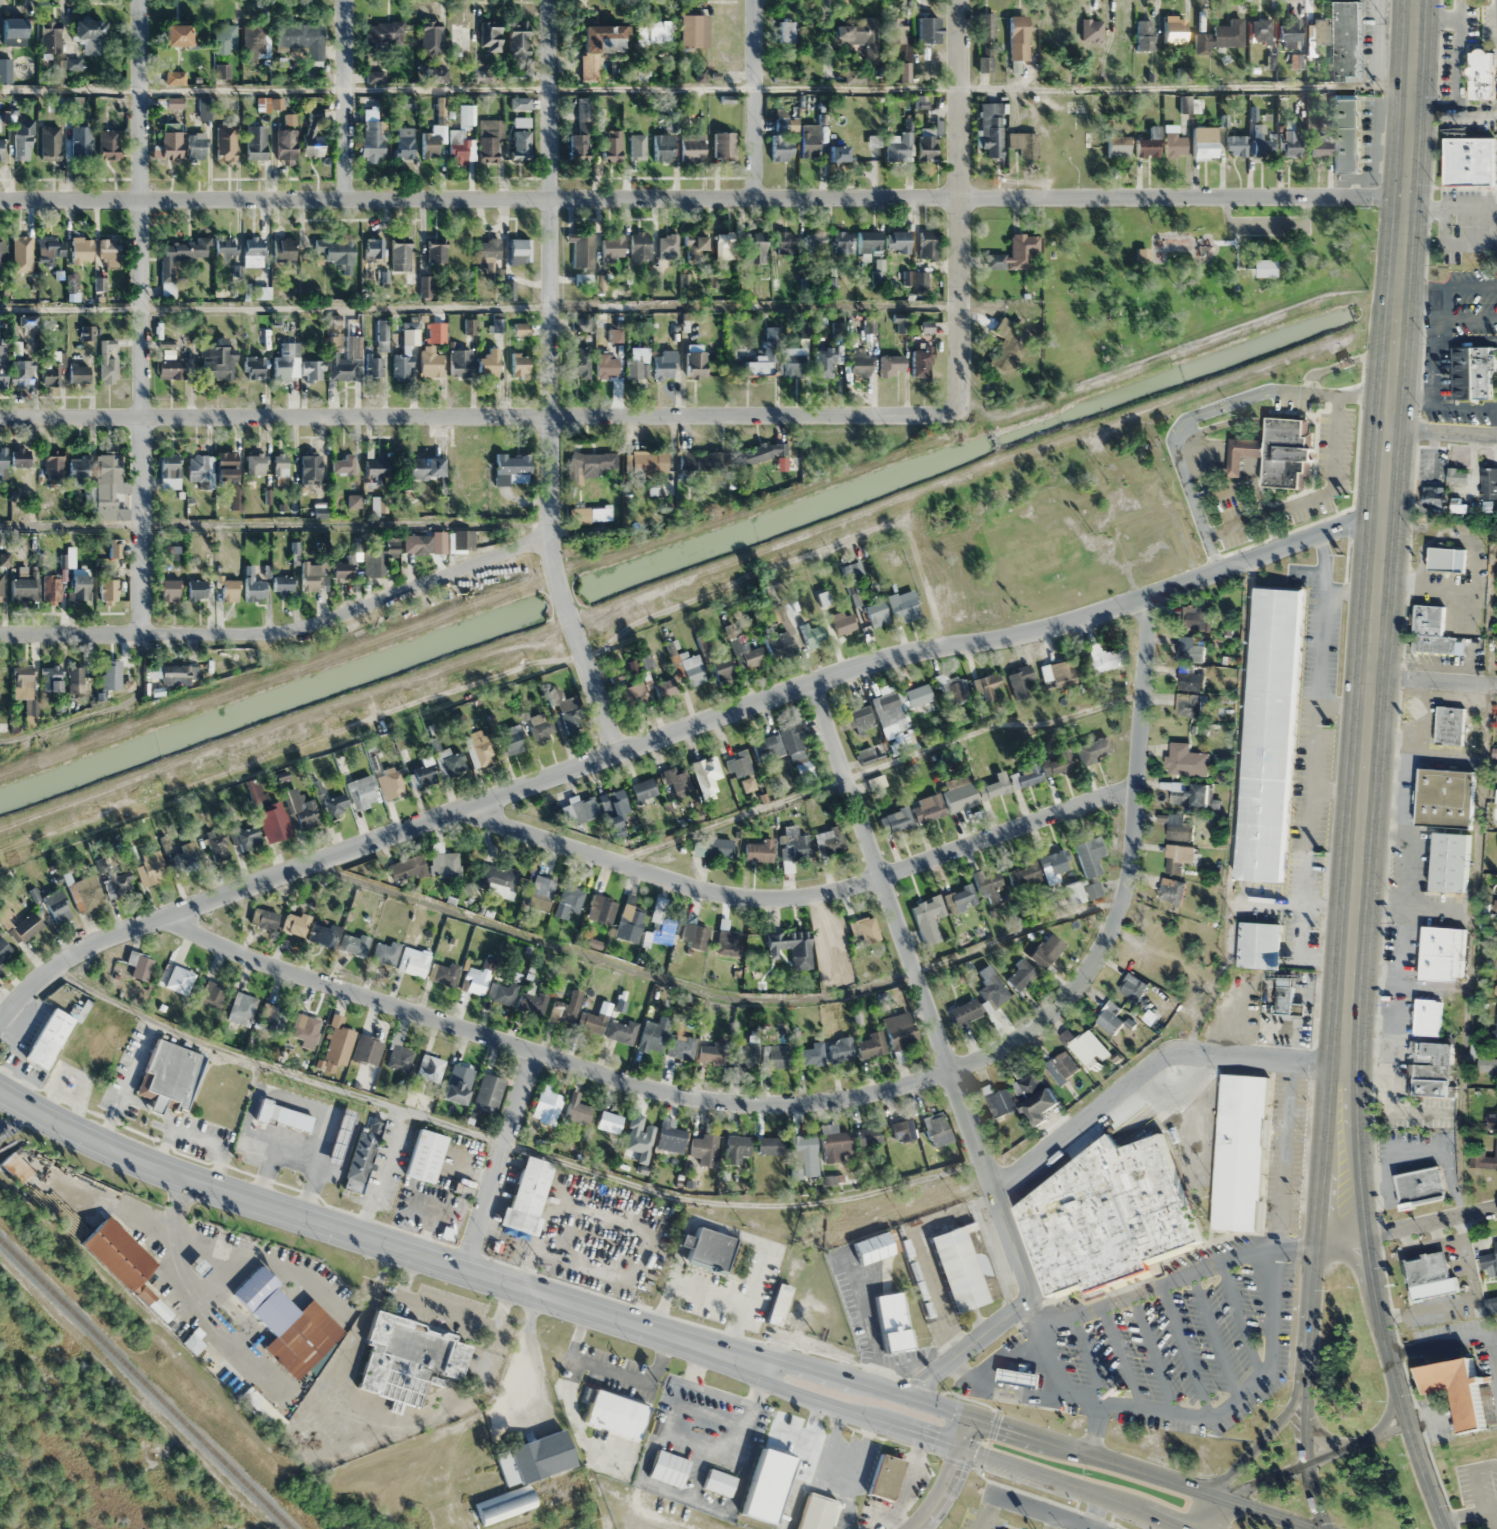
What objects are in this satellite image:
building: (928, 29)
building: (694, 30)
building: (1174, 30)
building: (1263, 30)
building: (787, 31)
building: (1290, 31)
building: (13, 32)
building: (384, 32)
building: (653, 32)
building: (895, 32)
building: (89, 33)
building: (722, 34)
building: (176, 35)
building: (1145, 35)
building: (1318, 35)
building: (489, 36)
building: (49, 37)
building: (860, 37)
building: (1017, 37)
building: (1220, 37)
building: (225, 38)
building: (430, 38)
building: (305, 39)
building: (460, 39)
building: (518, 39)
building: (1346, 40)
building: (986, 41)
building: (254, 42)
building: (598, 46)
building: (222, 71)
building: (1480, 74)
building: (375, 76)
building: (174, 77)
road: (703, 88)
road: (759, 100)
road: (345, 101)
building: (169, 103)
building: (205, 108)
building: (991, 129)
building: (581, 133)
building: (1346, 133)
building: (313, 135)
building: (489, 139)
building: (809, 140)
building: (23, 141)
building: (51, 141)
building: (80, 141)
building: (256, 141)
building: (373, 141)
building: (781, 141)
building: (226, 142)
building: (1204, 142)
building: (404, 143)
building: (1024, 143)
building: (1081, 143)
building: (109, 144)
building: (170, 144)
building: (521, 144)
building: (1175, 144)
building: (429, 145)
building: (458, 145)
building: (611, 145)
building: (1236, 145)
building: (1291, 145)
building: (1319, 145)
building: (286, 146)
building: (724, 146)
building: (926, 146)
building: (1118, 146)
building: (1261, 146)
building: (196, 147)
building: (663, 147)
building: (692, 147)
building: (1146, 147)
building: (1, 148)
building: (638, 148)
building: (899, 148)
building: (837, 153)
building: (1469, 160)
road: (701, 202)
road: (961, 207)
road: (1268, 220)
building: (868, 241)
building: (897, 241)
building: (784, 242)
building: (843, 242)
building: (667, 243)
building: (695, 244)
building: (815, 244)
building: (927, 244)
building: (639, 246)
building: (724, 246)
building: (225, 247)
building: (611, 247)
building: (374, 248)
building: (756, 248)
building: (19, 249)
building: (50, 249)
building: (81, 250)
building: (285, 250)
building: (253, 251)
building: (338, 251)
building: (519, 251)
building: (582, 251)
building: (2, 252)
building: (108, 252)
building: (436, 253)
building: (488, 253)
building: (1014, 253)
building: (181, 255)
building: (400, 256)
building: (1263, 268)
park: (1183, 274)
road: (480, 307)
road: (139, 315)
building: (436, 332)
road: (1372, 355)
building: (347, 360)
building: (217, 361)
road: (1347, 361)
building: (287, 362)
building: (429, 362)
building: (459, 362)
building: (793, 362)
building: (859, 362)
building: (921, 362)
building: (488, 363)
building: (762, 363)
building: (824, 363)
building: (519, 364)
building: (579, 364)
building: (664, 364)
building: (890, 364)
building: (374, 365)
building: (694, 365)
building: (3, 366)
building: (402, 366)
building: (254, 367)
building: (607, 367)
building: (637, 368)
building: (108, 370)
building: (169, 370)
building: (312, 370)
building: (50, 371)
road: (1317, 371)
building: (1471, 372)
building: (22, 374)
building: (78, 374)
road: (543, 382)
road: (1205, 413)
road: (481, 420)
road: (1259, 425)
road: (1441, 431)
road: (1219, 449)
road: (1243, 450)
road: (1192, 452)
building: (1276, 452)
road: (1218, 455)
building: (19, 457)
road: (1233, 457)
road: (1248, 458)
road: (1216, 460)
building: (647, 462)
building: (703, 462)
road: (1233, 462)
road: (1247, 463)
building: (3, 464)
building: (255, 464)
building: (343, 464)
building: (53, 465)
building: (514, 465)
building: (591, 465)
building: (225, 466)
building: (423, 467)
building: (280, 469)
building: (311, 469)
building: (376, 469)
building: (200, 470)
building: (169, 472)
building: (1458, 474)
building: (81, 477)
building: (470, 477)
building: (108, 482)
building: (1488, 486)
road: (1223, 493)
road: (1313, 496)
building: (236, 497)
building: (1433, 497)
building: (592, 515)
road: (273, 523)
road: (1379, 530)
building: (462, 539)
building: (420, 544)
building: (113, 549)
building: (379, 558)
building: (1441, 558)
building: (342, 570)
building: (309, 576)
building: (283, 584)
building: (253, 586)
building: (0, 587)
building: (51, 588)
building: (79, 588)
building: (109, 589)
building: (22, 590)
building: (170, 590)
building: (196, 590)
building: (227, 590)
road: (1347, 590)
building: (876, 613)
building: (1197, 618)
building: (843, 621)
road: (281, 629)
building: (1429, 631)
building: (814, 635)
building: (778, 643)
building: (1189, 650)
building: (1102, 659)
building: (719, 666)
building: (692, 670)
building: (1059, 672)
building: (111, 674)
building: (177, 674)
building: (51, 679)
road: (1431, 679)
building: (75, 680)
building: (1190, 680)
building: (1021, 681)
building: (1, 683)
building: (22, 683)
building: (987, 684)
building: (666, 688)
building: (949, 688)
building: (633, 695)
building: (918, 695)
building: (1188, 704)
road: (1339, 704)
building: (889, 710)
road: (99, 711)
building: (570, 714)
building: (861, 717)
building: (1449, 725)
building: (540, 729)
building: (1270, 732)
road: (673, 733)
building: (512, 739)
building: (793, 740)
road: (1311, 746)
building: (765, 748)
building: (1094, 748)
building: (480, 751)
building: (1186, 760)
building: (451, 762)
building: (1057, 763)
building: (737, 764)
road: (875, 766)
building: (804, 769)
building: (423, 773)
building: (1029, 774)
building: (707, 776)
building: (390, 783)
building: (678, 784)
building: (994, 786)
building: (645, 790)
building: (362, 791)
building: (1187, 793)
building: (959, 794)
building: (1444, 798)
building: (336, 805)
building: (614, 805)
building: (926, 807)
building: (584, 809)
building: (300, 810)
road: (1233, 811)
building: (268, 814)
building: (895, 819)
building: (1176, 826)
building: (245, 837)
building: (830, 840)
building: (218, 846)
building: (712, 847)
building: (793, 849)
building: (758, 851)
building: (184, 859)
building: (1173, 859)
building: (1450, 862)
building: (448, 864)
building: (1053, 865)
building: (151, 868)
building: (406, 868)
building: (1086, 870)
building: (1023, 874)
road: (1126, 875)
building: (498, 880)
building: (118, 884)
building: (542, 886)
building: (1170, 890)
building: (88, 892)
road: (801, 897)
building: (962, 898)
building: (569, 901)
building: (57, 904)
road: (1289, 904)
building: (601, 909)
building: (927, 918)
building: (266, 919)
building: (630, 921)
building: (295, 924)
building: (1158, 927)
building: (25, 928)
building: (663, 930)
building: (866, 930)
building: (323, 935)
building: (694, 935)
building: (831, 939)
building: (728, 943)
building: (353, 944)
building: (1259, 944)
building: (792, 947)
building: (4, 948)
building: (1044, 950)
building: (385, 953)
building: (1440, 953)
building: (1146, 955)
building: (141, 966)
building: (442, 973)
building: (1020, 975)
building: (179, 980)
building: (474, 980)
building: (1131, 987)
building: (993, 991)
building: (502, 992)
building: (211, 994)
road: (718, 994)
building: (1285, 994)
building: (532, 1002)
building: (566, 1008)
building: (242, 1009)
building: (964, 1012)
building: (1426, 1016)
building: (1109, 1018)
building: (276, 1020)
building: (592, 1022)
building: (1496, 1023)
building: (306, 1030)
building: (899, 1030)
building: (622, 1031)
building: (652, 1035)
building: (48, 1038)
building: (339, 1044)
building: (871, 1045)
building: (1084, 1045)
building: (681, 1048)
building: (841, 1049)
building: (367, 1050)
building: (1432, 1052)
building: (713, 1053)
building: (746, 1055)
building: (811, 1055)
building: (779, 1056)
road: (553, 1057)
building: (400, 1058)
road: (945, 1062)
building: (1488, 1065)
building: (1061, 1066)
building: (430, 1072)
road: (1147, 1072)
building: (168, 1076)
building: (1428, 1082)
building: (457, 1083)
building: (488, 1094)
building: (1034, 1096)
building: (1003, 1101)
building: (547, 1107)
building: (577, 1109)
building: (284, 1117)
building: (609, 1122)
building: (1492, 1123)
building: (937, 1129)
building: (902, 1130)
building: (340, 1136)
building: (643, 1136)
building: (670, 1137)
building: (868, 1137)
road: (508, 1143)
building: (835, 1144)
building: (770, 1145)
building: (704, 1148)
building: (737, 1148)
building: (364, 1153)
building: (1242, 1153)
road: (1281, 1154)
building: (425, 1155)
building: (807, 1155)
road: (498, 1159)
building: (1484, 1159)
building: (1419, 1186)
building: (527, 1194)
building: (1105, 1214)
road: (1404, 1224)
road: (364, 1236)
building: (872, 1247)
road: (1292, 1248)
building: (709, 1250)
building: (117, 1253)
building: (1490, 1263)
building: (964, 1266)
building: (1428, 1275)
road: (1156, 1287)
building: (143, 1293)
road: (1310, 1294)
road: (1377, 1298)
building: (778, 1303)
road: (1271, 1313)
road: (1240, 1320)
building: (892, 1321)
building: (287, 1323)
road: (1214, 1338)
building: (192, 1343)
road: (1442, 1343)
road: (1184, 1350)
road: (1152, 1354)
road: (1492, 1354)
road: (1121, 1357)
building: (408, 1358)
road: (1087, 1359)
building: (1020, 1376)
gas station: (1020, 1376)
railway: (145, 1385)
road: (1249, 1389)
building: (1455, 1390)
road: (1058, 1391)
road: (1295, 1394)
building: (261, 1409)
road: (1153, 1409)
road: (1222, 1410)
building: (616, 1414)
traffic signals: (972, 1414)
road: (1388, 1414)
road: (1029, 1433)
road: (1321, 1436)
road: (954, 1445)
traffic signals: (961, 1447)
building: (541, 1456)
road: (1312, 1460)
building: (668, 1468)
road: (951, 1474)
building: (884, 1476)
park: (1469, 1478)
building: (719, 1482)
building: (766, 1485)
road: (1476, 1487)
parking lot: (1479, 1490)
building: (505, 1506)
road: (1042, 1511)
building: (817, 1512)
road: (986, 1512)
road: (1096, 1512)
road: (1210, 1512)
road: (1462, 1516)
road: (1050, 1522)

